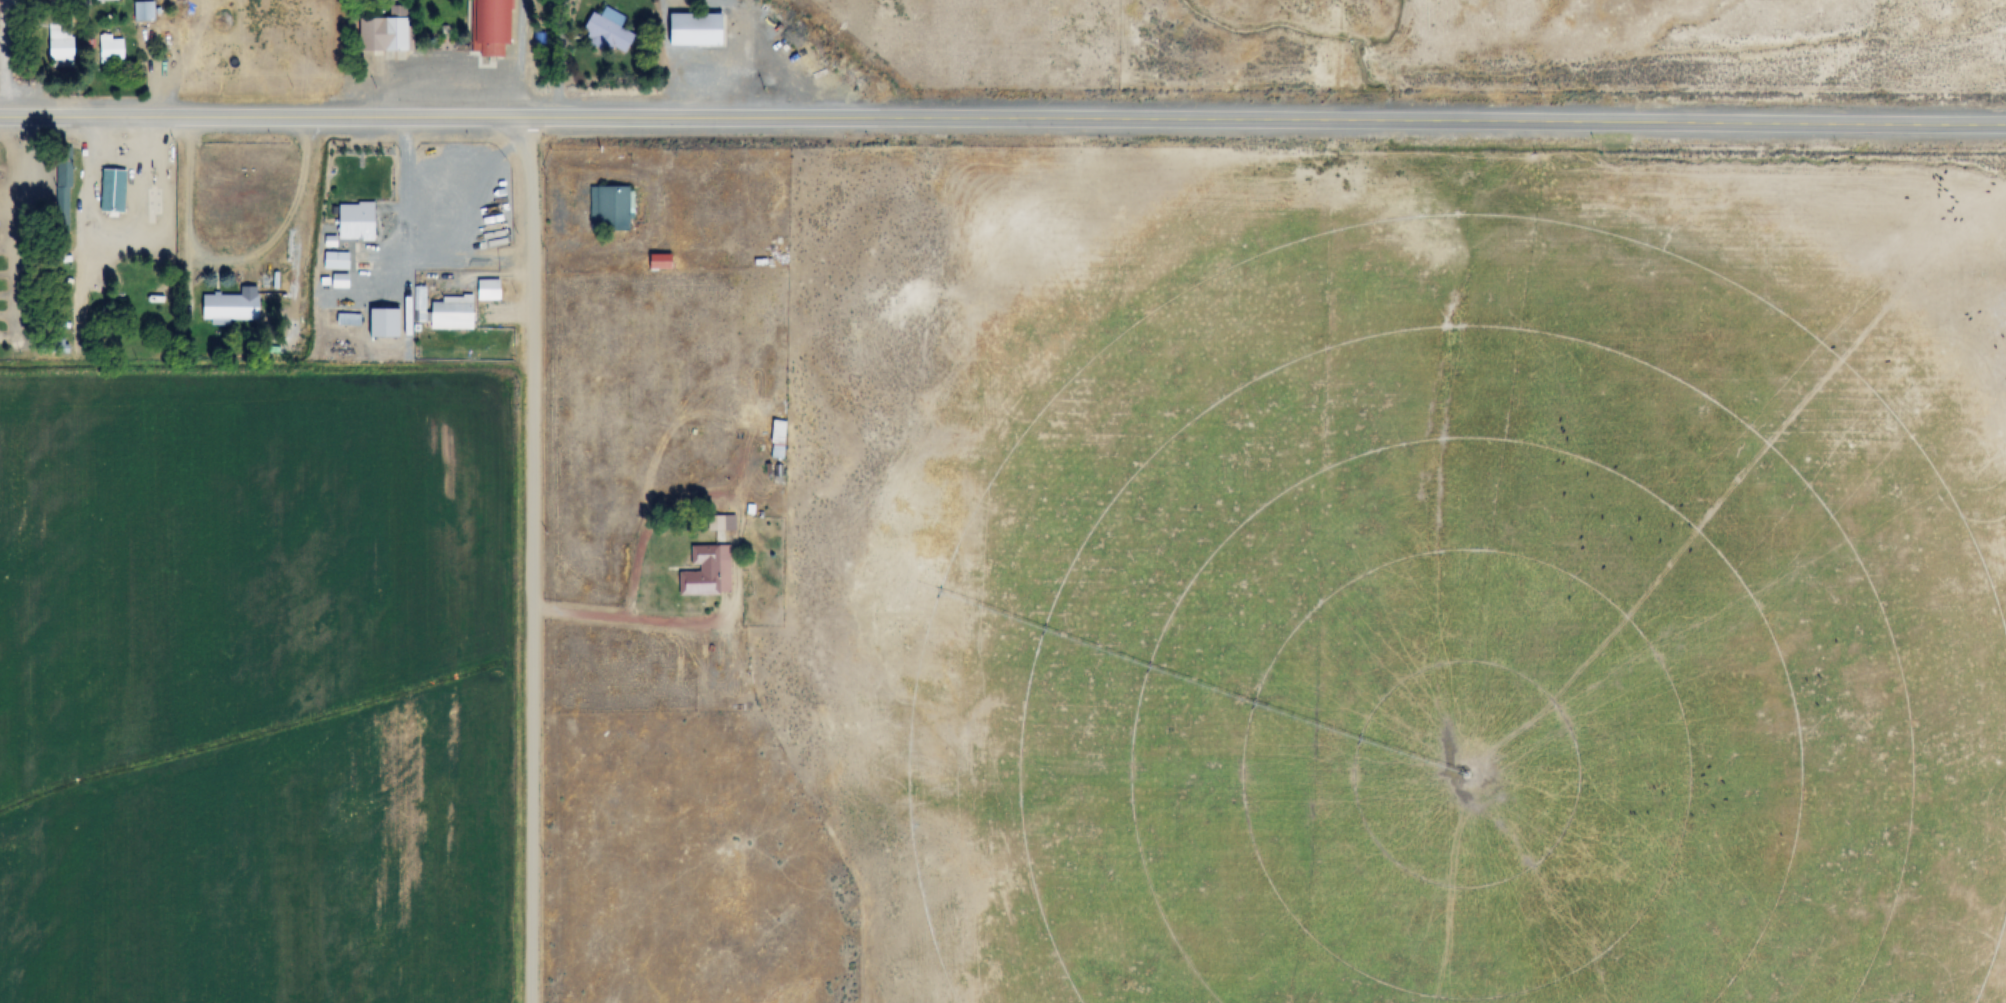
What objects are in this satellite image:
building: (145, 11)
building: (491, 26)
building: (698, 29)
building: (610, 30)
building: (387, 34)
building: (63, 46)
building: (112, 49)
road: (263, 116)
road: (1266, 119)
building: (114, 190)
road: (87, 202)
building: (610, 209)
building: (357, 222)
building: (336, 261)
building: (661, 262)
building: (148, 294)
building: (231, 307)
building: (452, 313)
building: (1, 340)
building: (779, 441)
building: (722, 524)
road: (532, 559)
building: (708, 572)
road: (621, 616)

